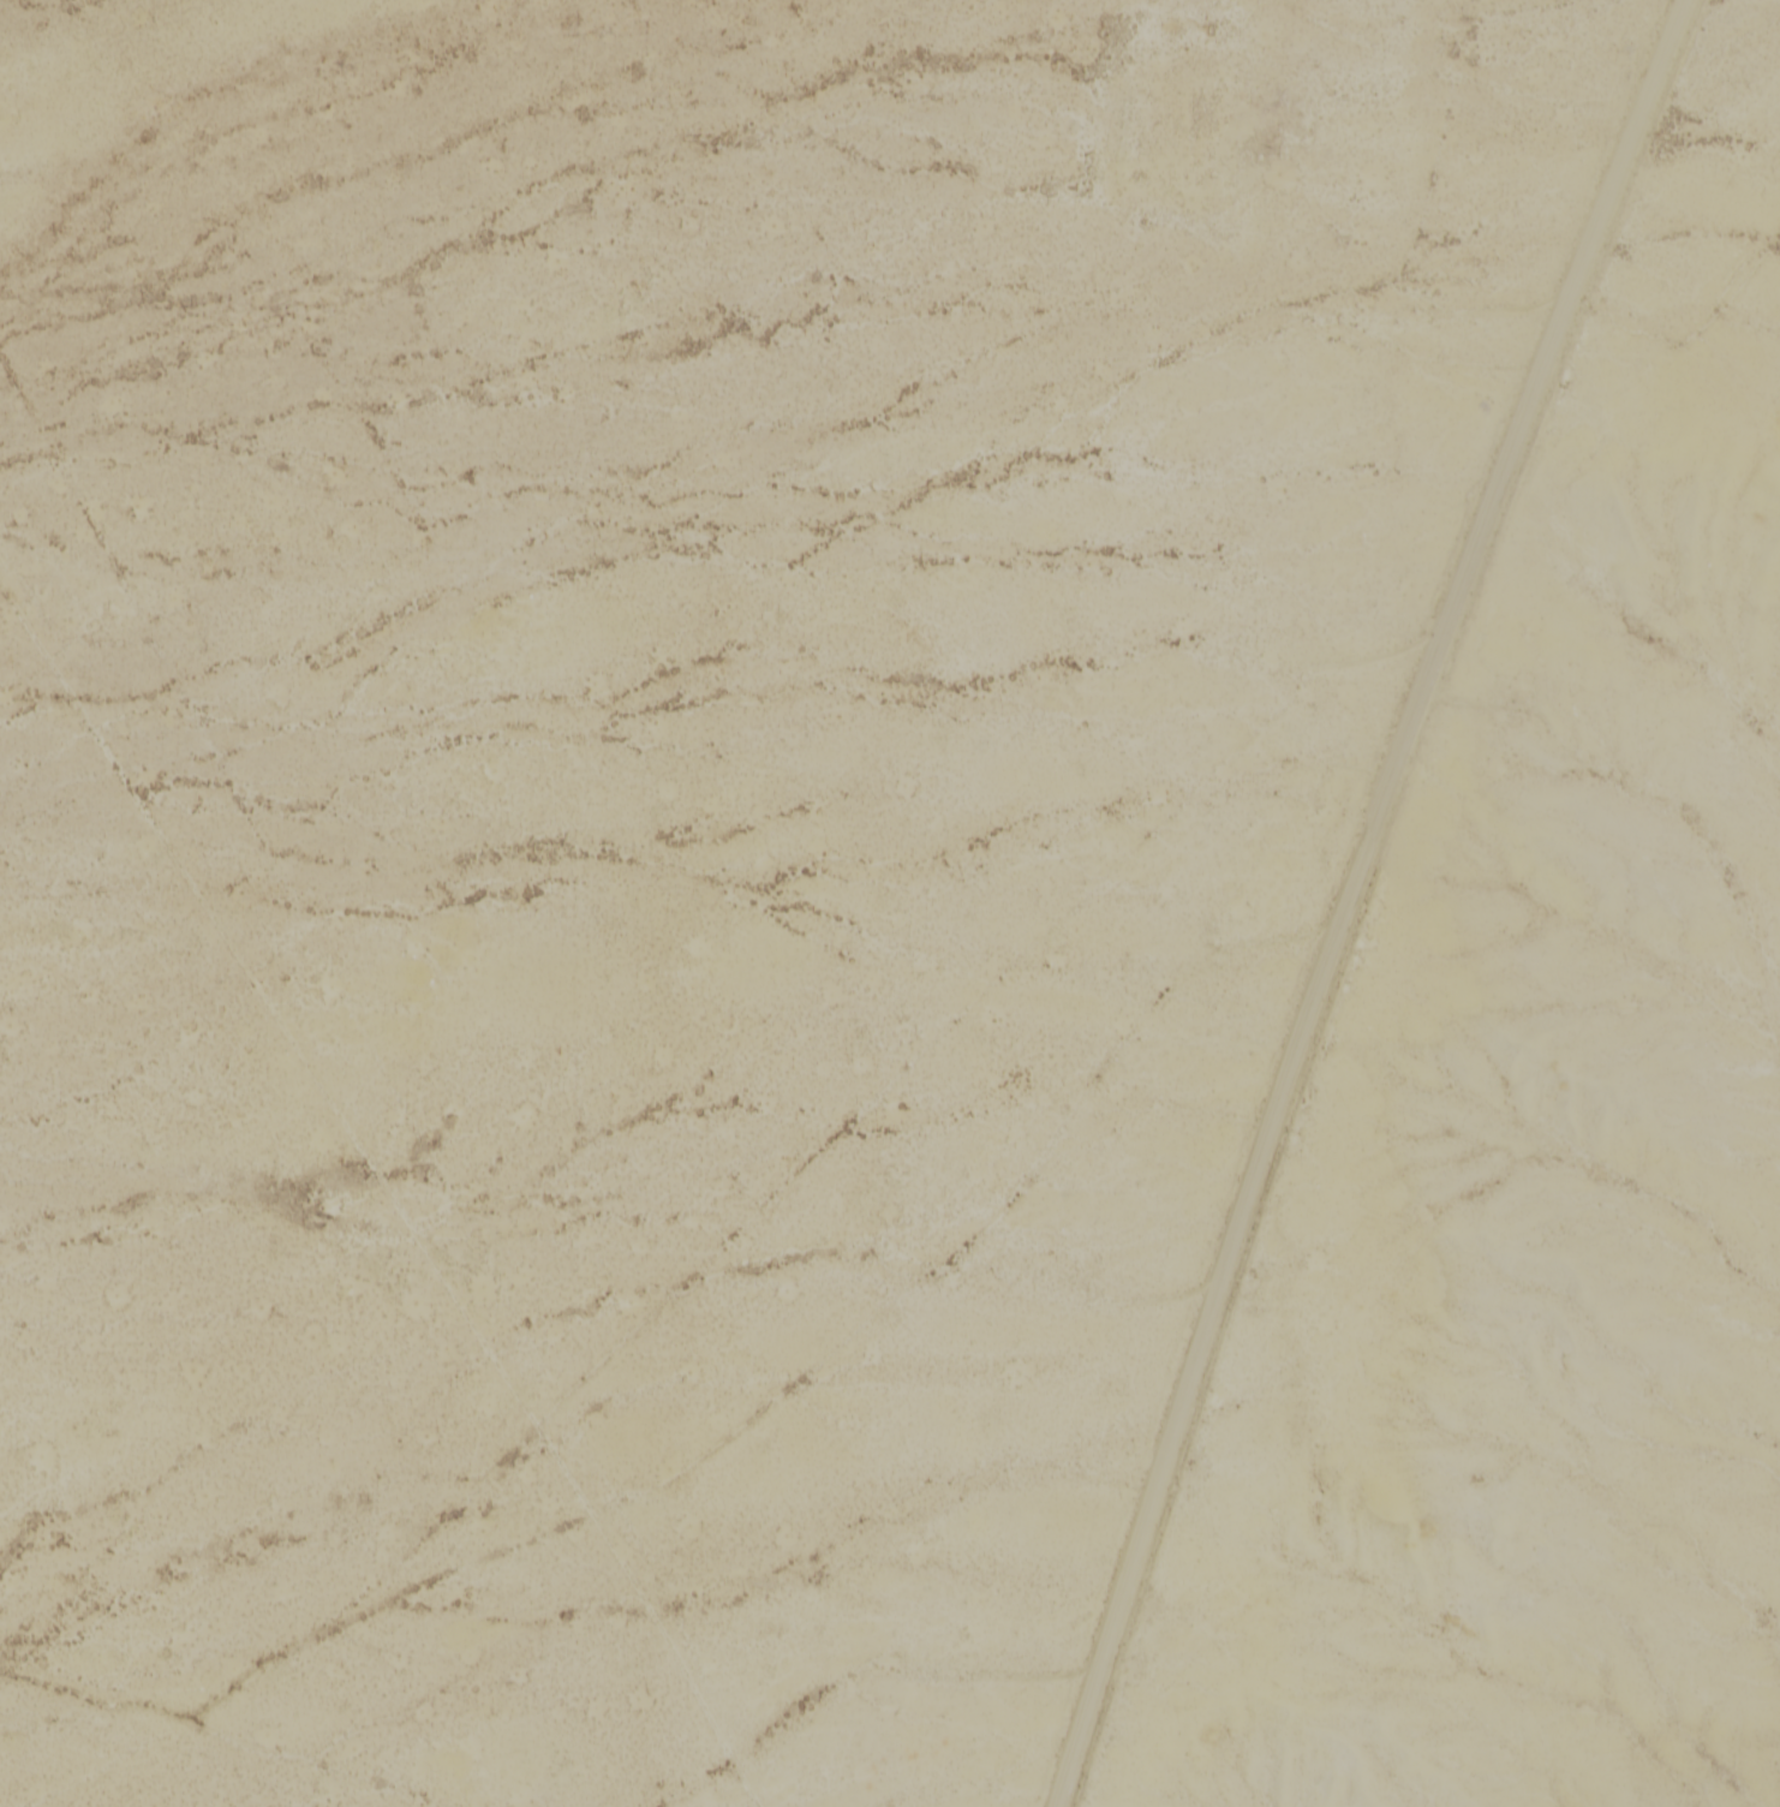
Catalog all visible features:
road: (1436, 67)
road: (1349, 896)
road: (399, 1173)
road: (406, 1587)
road: (340, 1746)

